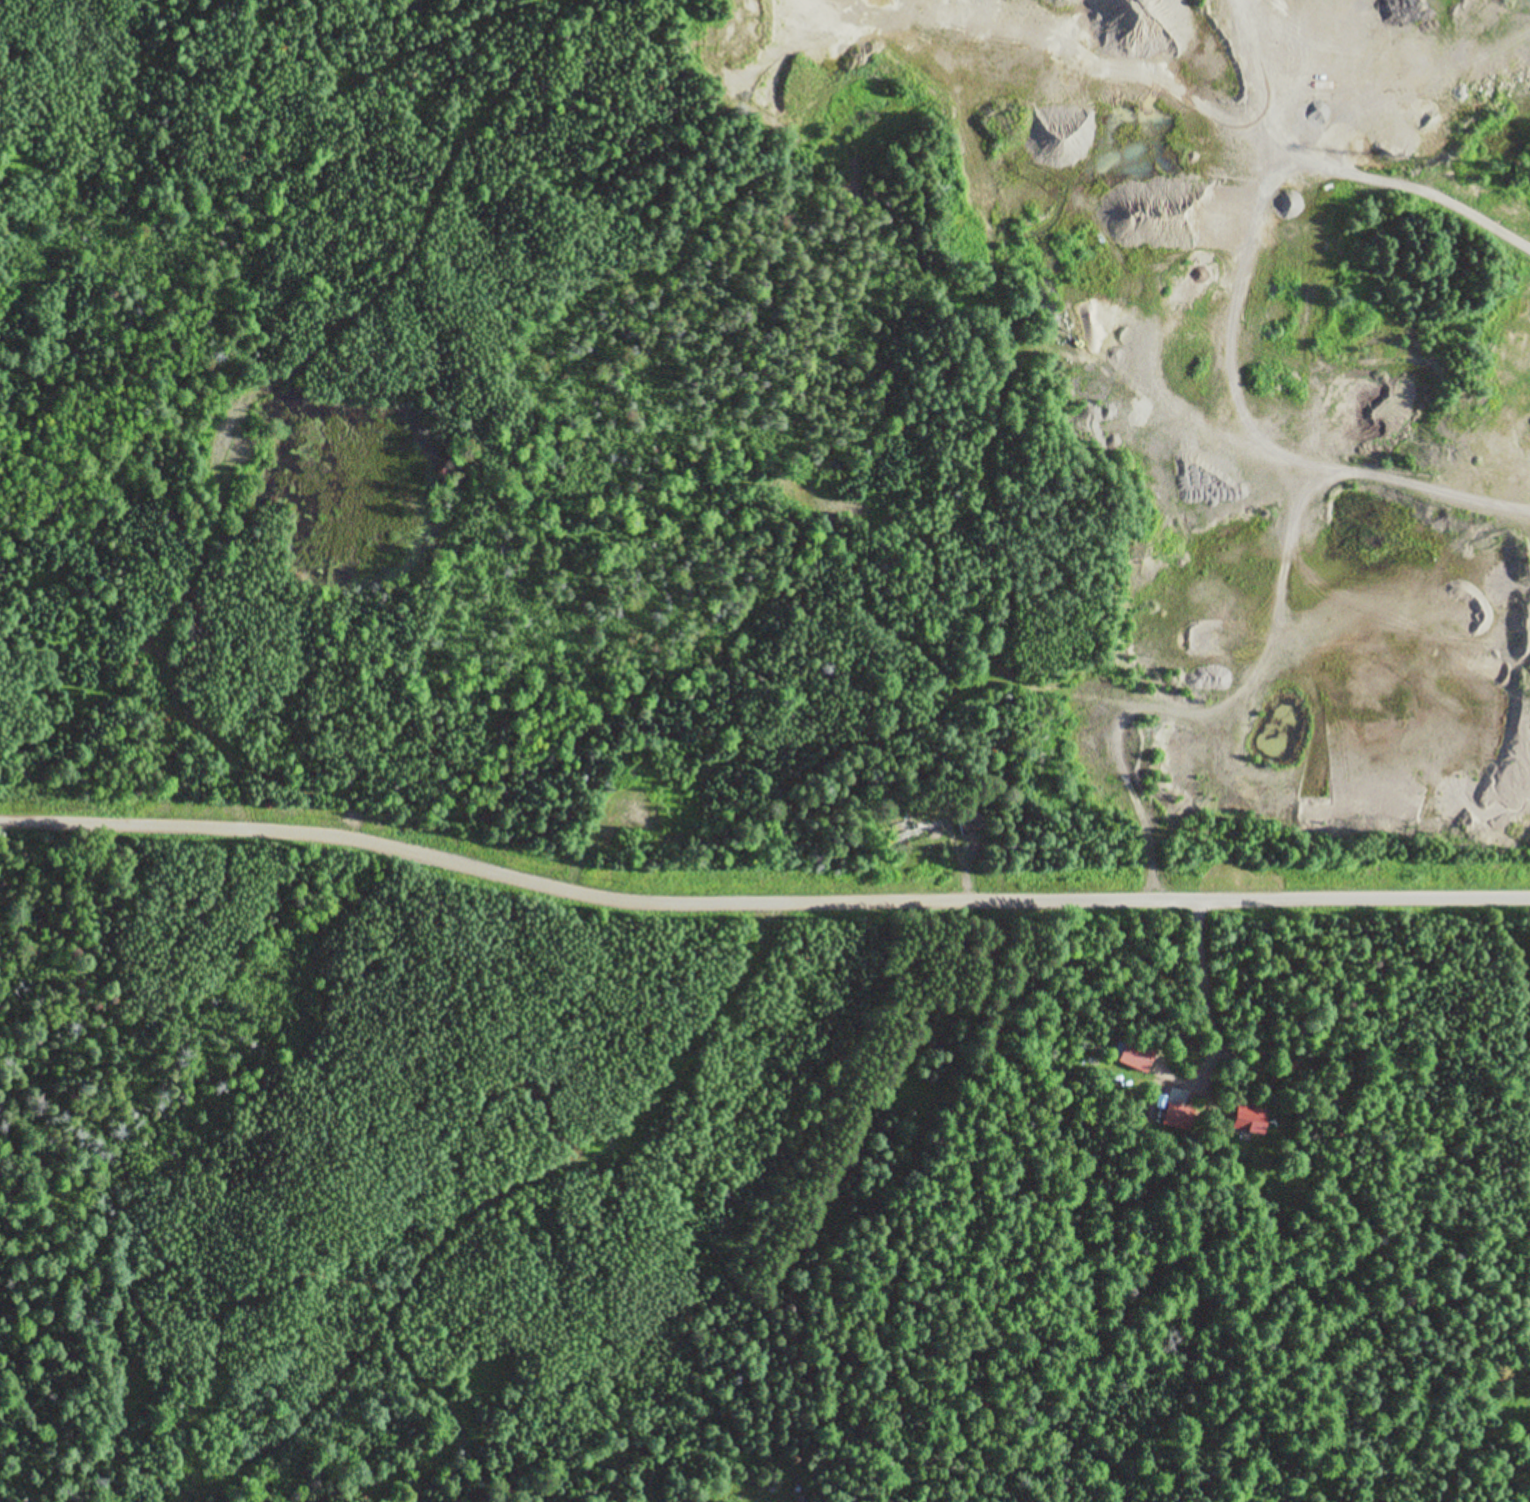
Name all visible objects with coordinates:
quarry: (1248, 365)
building: (967, 823)
building: (917, 829)
road: (760, 904)
building: (1134, 1056)
building: (1177, 1117)
building: (1248, 1118)

